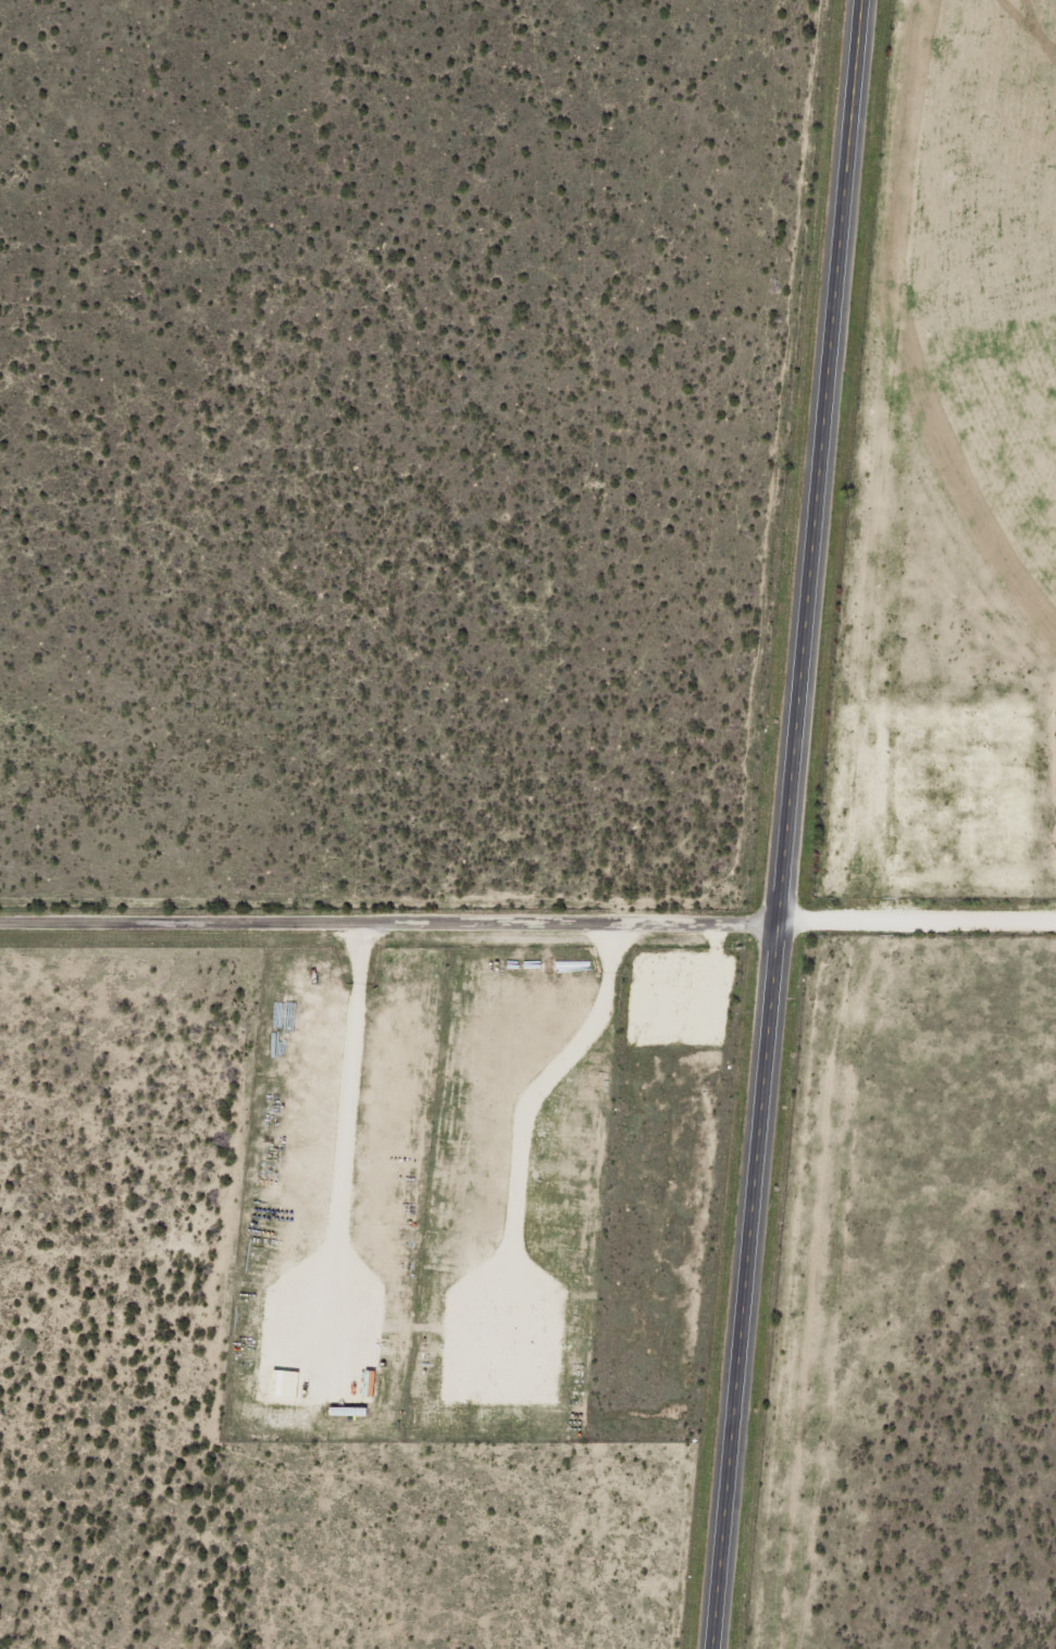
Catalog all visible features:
road: (784, 824)
road: (387, 926)
road: (915, 928)

